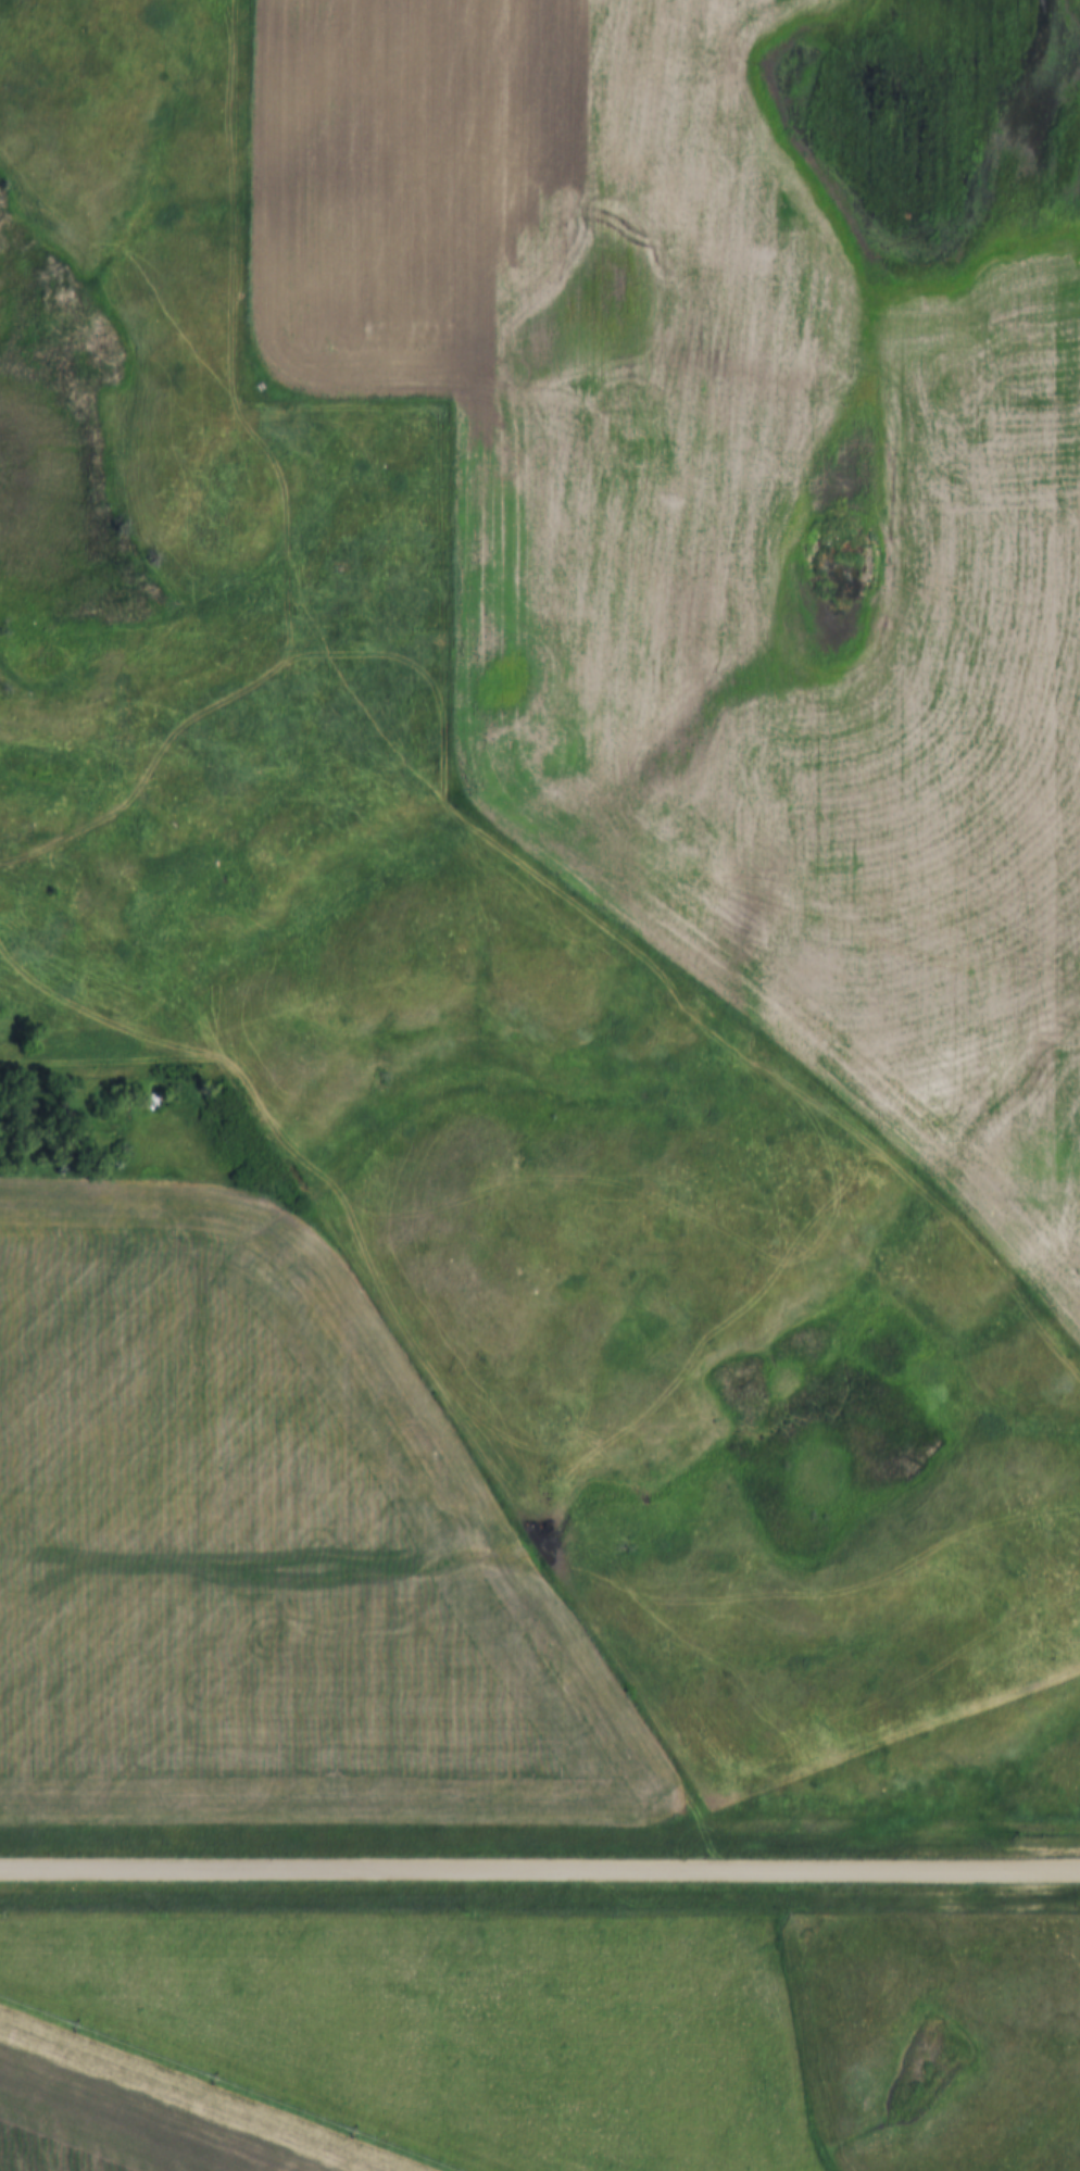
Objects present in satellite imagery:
road: (540, 1870)

